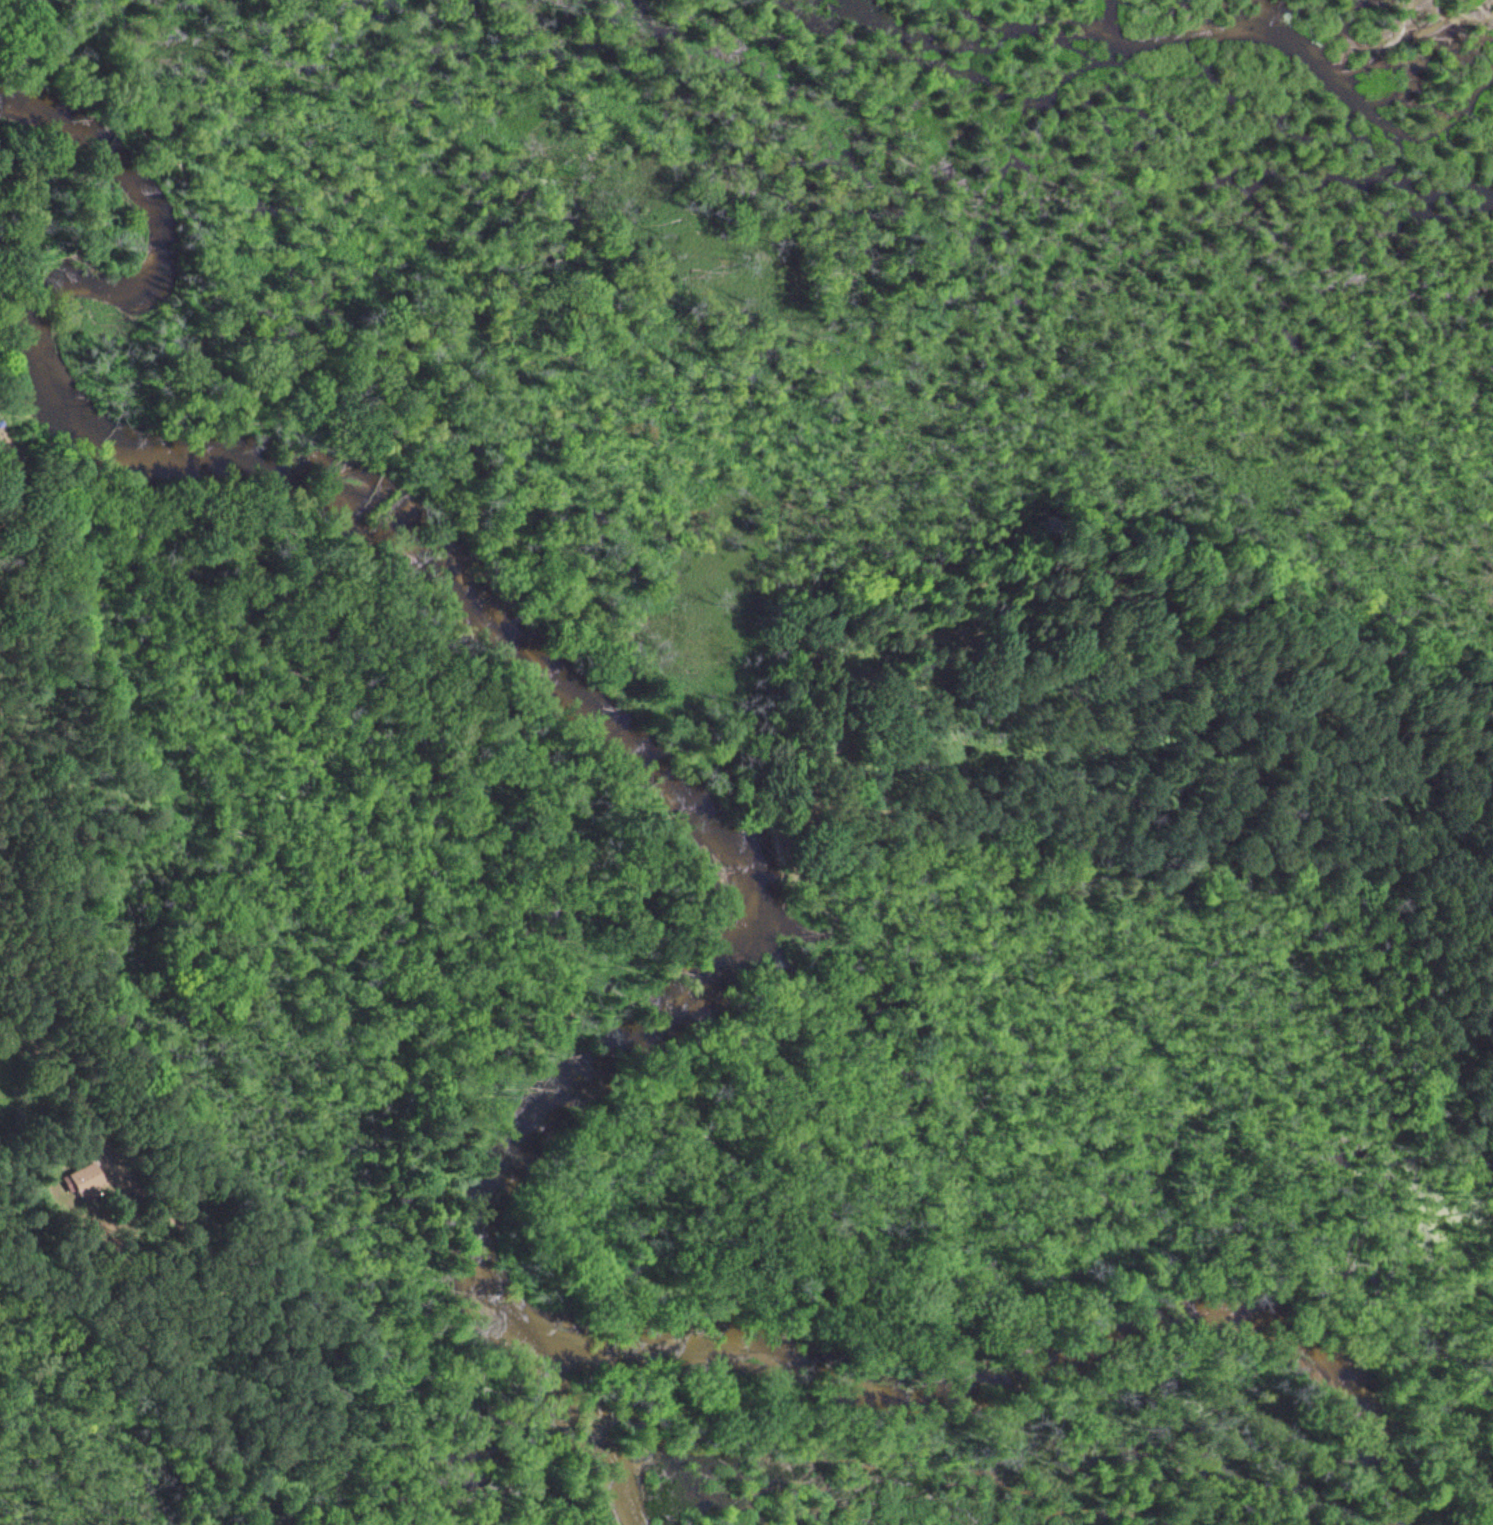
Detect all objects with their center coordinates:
river: (626, 1029)
building: (76, 1175)

